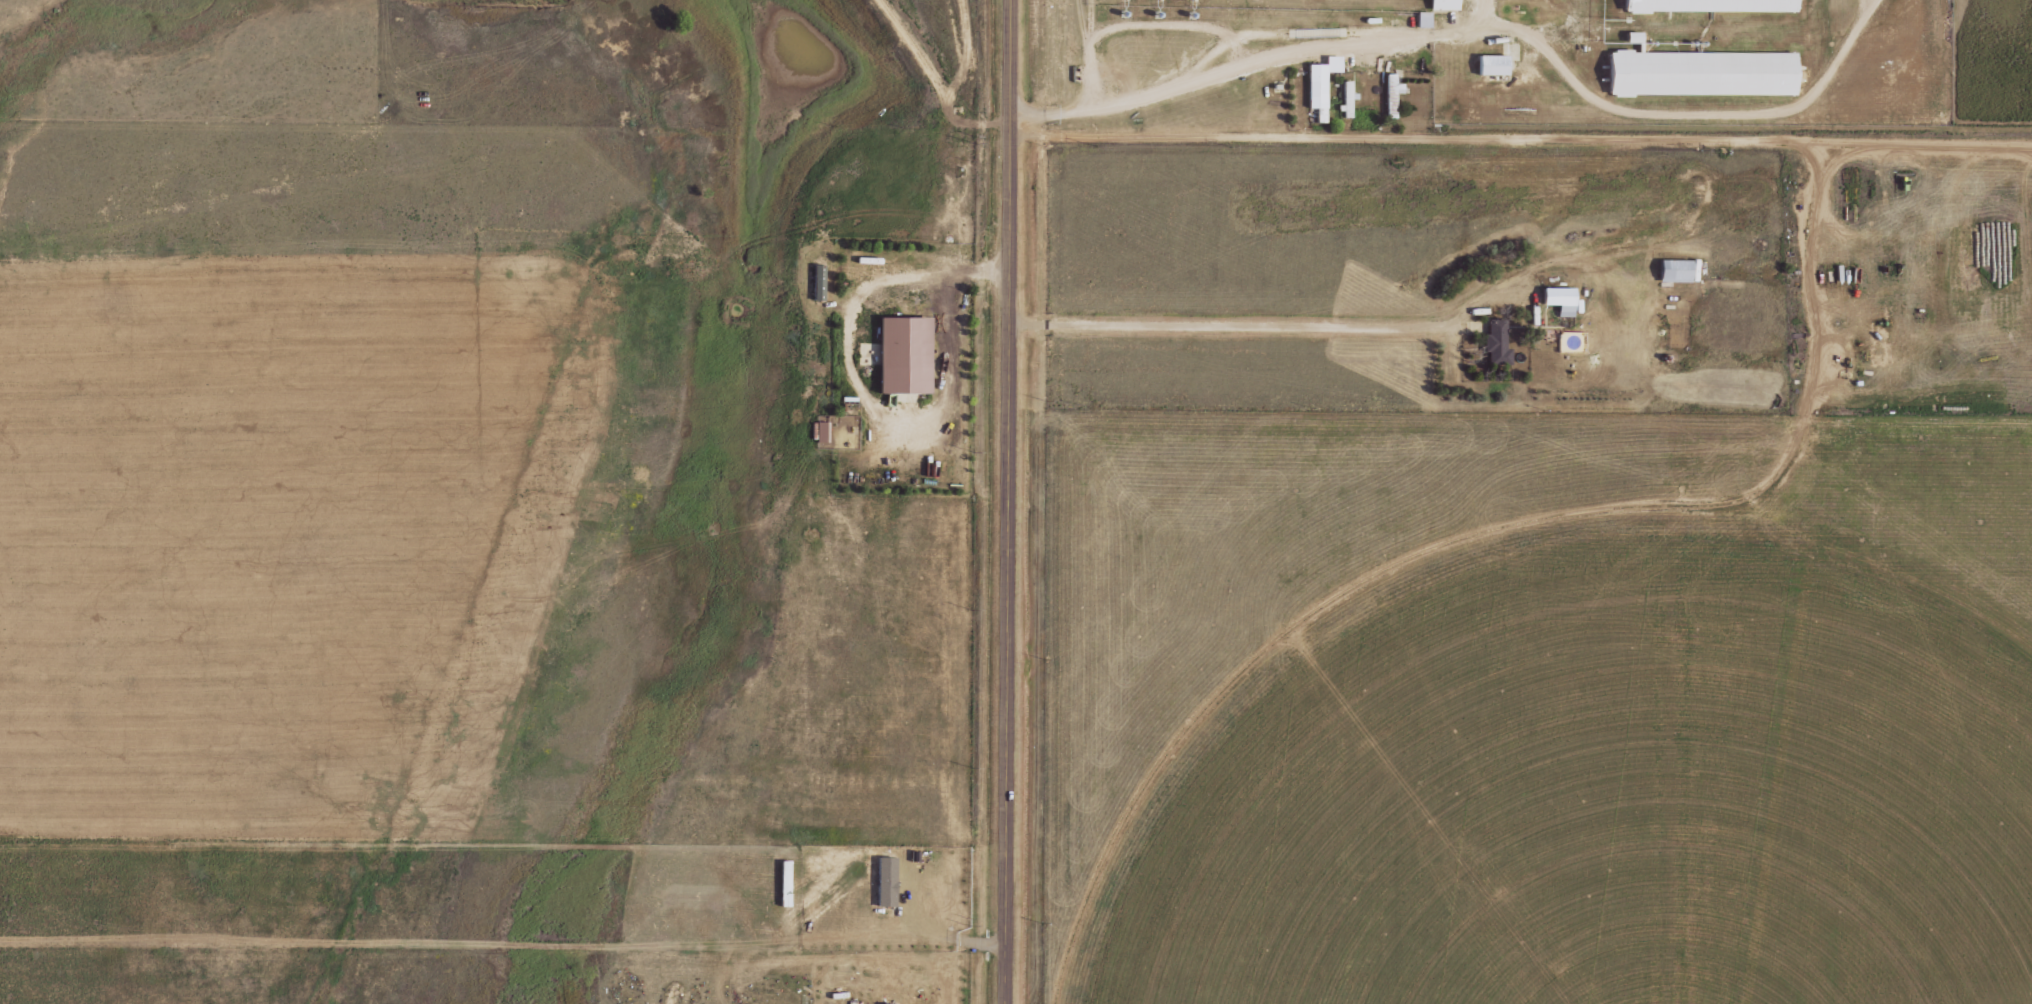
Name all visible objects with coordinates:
building: (1445, 5)
building: (1707, 6)
building: (1422, 19)
building: (1492, 64)
road: (1249, 69)
building: (1697, 74)
building: (1317, 89)
building: (1391, 94)
building: (1347, 102)
road: (1522, 136)
building: (1671, 271)
building: (1555, 300)
road: (1271, 325)
building: (1493, 345)
building: (901, 357)
building: (820, 432)
road: (1008, 501)
building: (889, 881)

